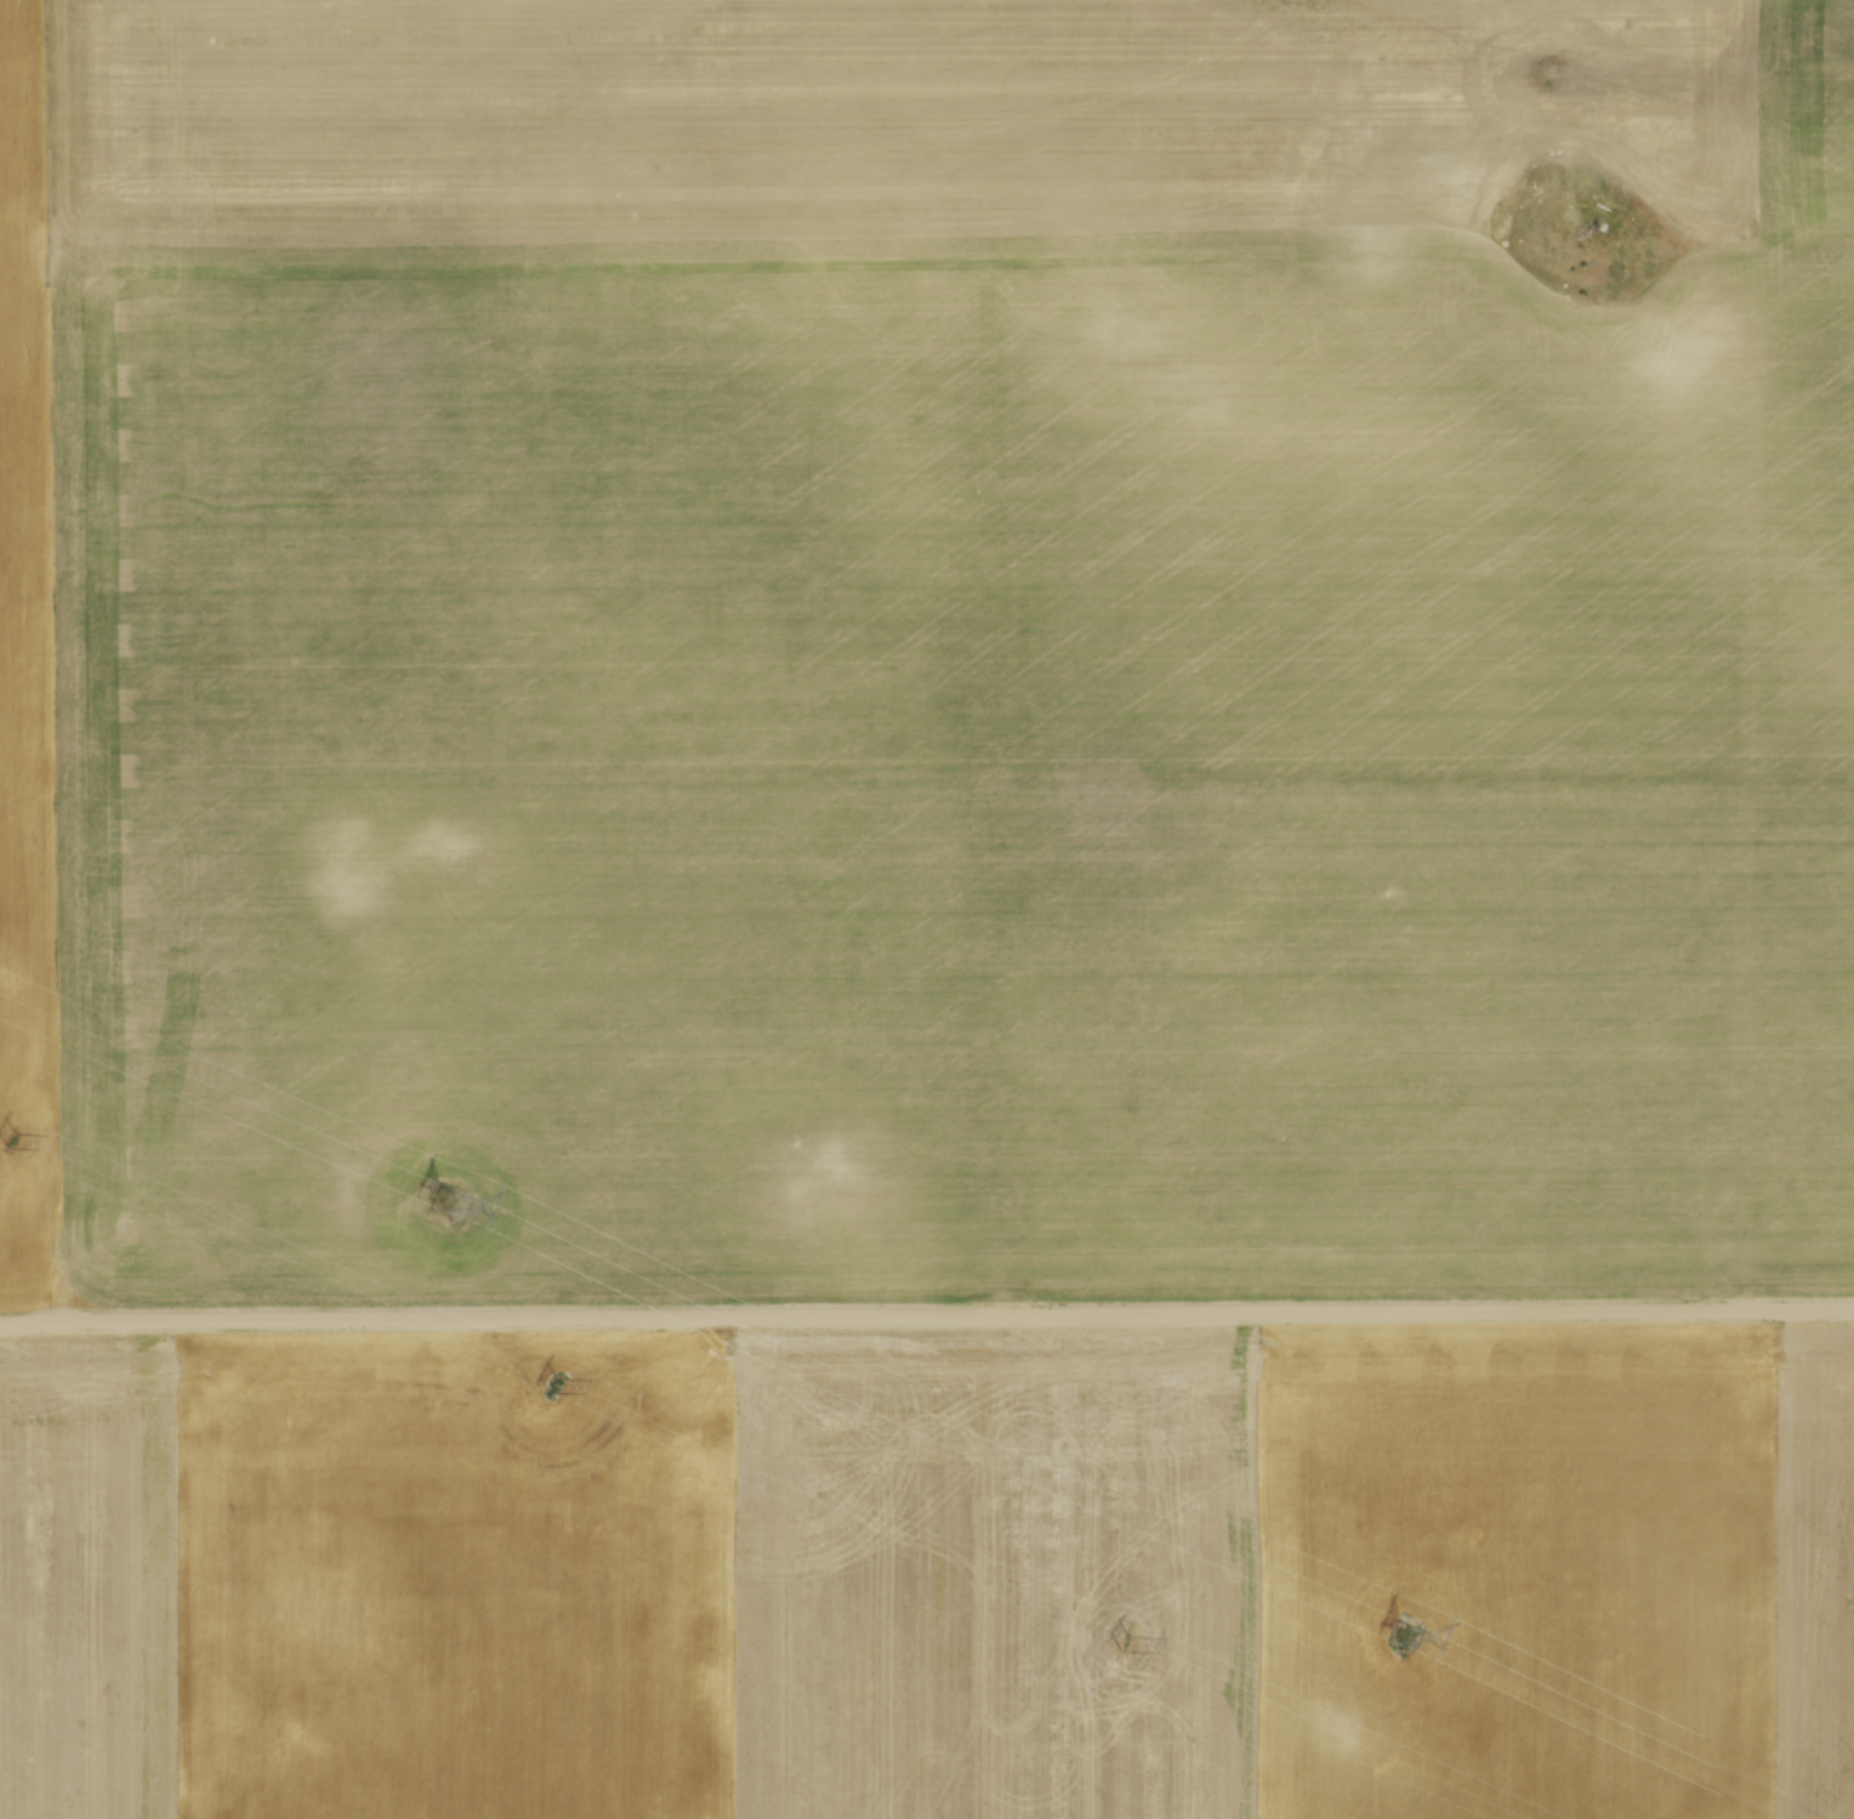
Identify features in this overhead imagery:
crop: (926, 647)
power tower: (12, 1142)
power tower: (449, 1201)
road: (926, 1315)
power tower: (552, 1382)
crop: (931, 1575)
power tower: (1403, 1637)
power tower: (1124, 1639)

